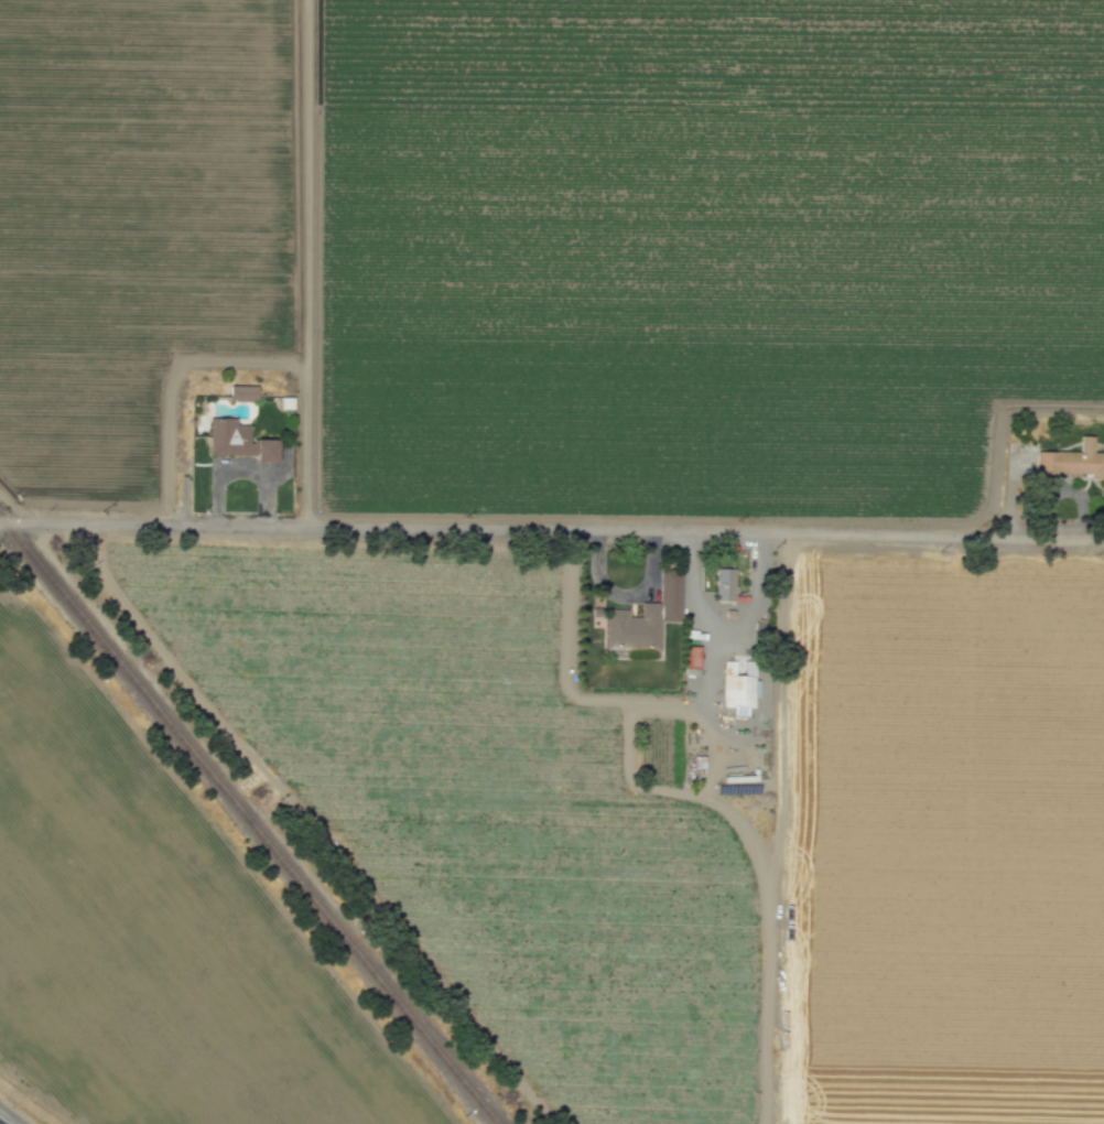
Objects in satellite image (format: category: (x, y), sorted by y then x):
building: (1042, 461)
road: (240, 469)
road: (552, 530)
building: (724, 584)
road: (628, 594)
building: (645, 617)
road: (723, 623)
building: (691, 656)
road: (711, 668)
building: (737, 690)
railway: (248, 821)

